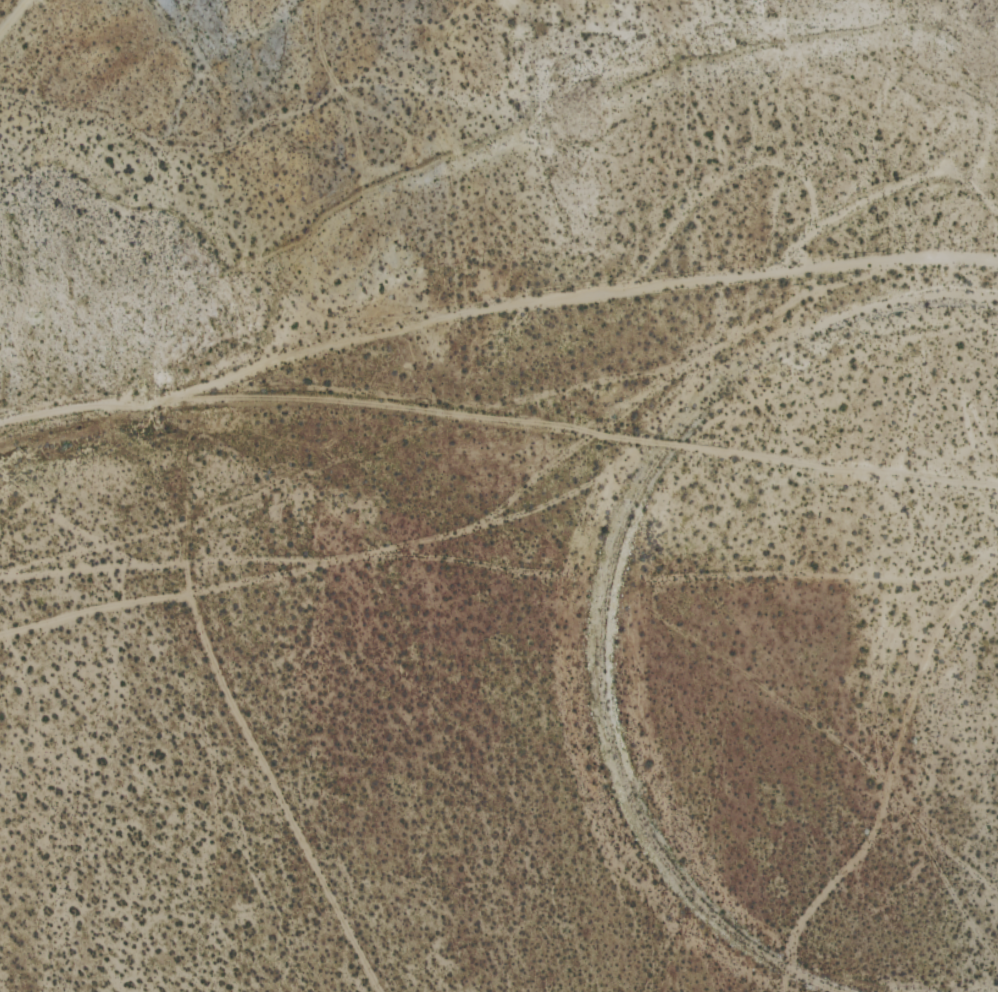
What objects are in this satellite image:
road: (9, 13)

